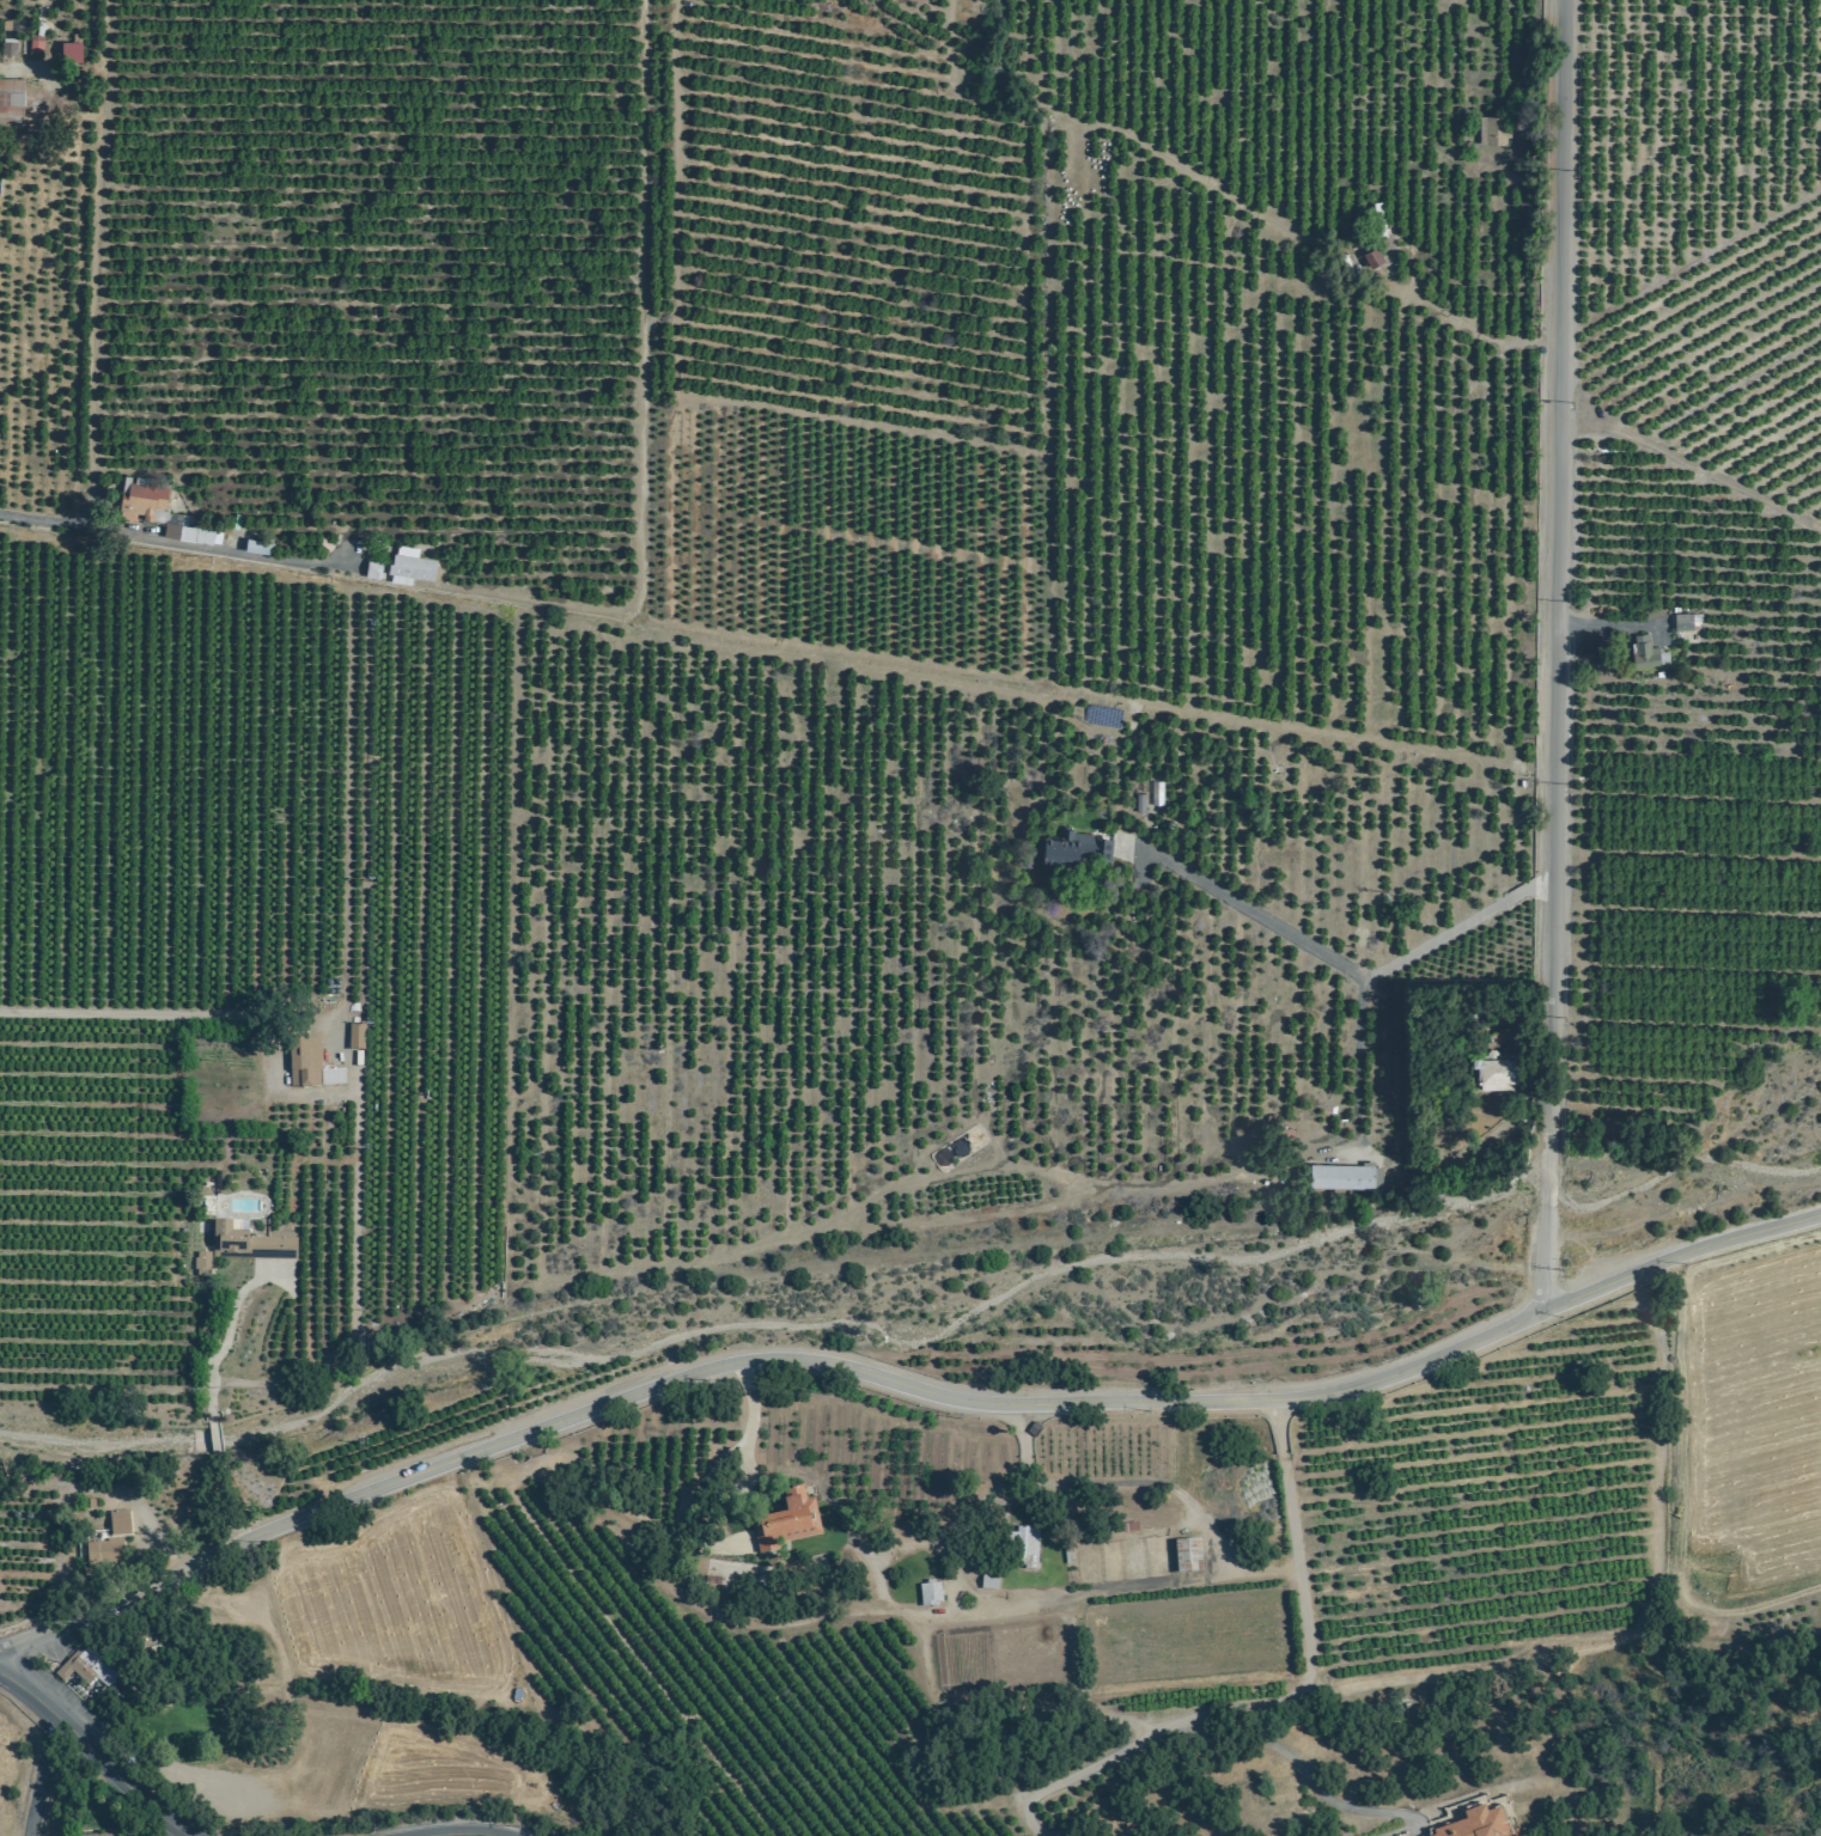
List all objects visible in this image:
building: (38, 22)
building: (72, 35)
building: (31, 43)
building: (67, 45)
building: (6, 47)
building: (10, 100)
building: (1493, 129)
building: (1372, 256)
road: (1693, 258)
road: (96, 263)
road: (1478, 330)
road: (1693, 468)
building: (193, 532)
road: (177, 543)
building: (257, 545)
road: (638, 554)
building: (410, 562)
building: (372, 568)
building: (1679, 621)
road: (1615, 622)
road: (1554, 652)
building: (1643, 652)
road: (1342, 737)
building: (1152, 792)
building: (1134, 801)
building: (1068, 848)
road: (1322, 954)
road: (135, 1012)
building: (354, 1037)
building: (309, 1065)
road: (1354, 1066)
building: (1494, 1071)
building: (1338, 1175)
building: (248, 1244)
building: (201, 1263)
road: (899, 1377)
road: (208, 1387)
road: (750, 1417)
road: (1679, 1500)
building: (787, 1521)
building: (117, 1523)
building: (1025, 1547)
building: (103, 1554)
building: (1187, 1555)
building: (930, 1593)
building: (84, 1672)
road: (1286, 1701)
road: (96, 1753)
road: (41, 1776)
road: (1340, 1805)
building: (1478, 1824)
road: (471, 1831)
building: (96, 1835)
building: (1425, 1835)

